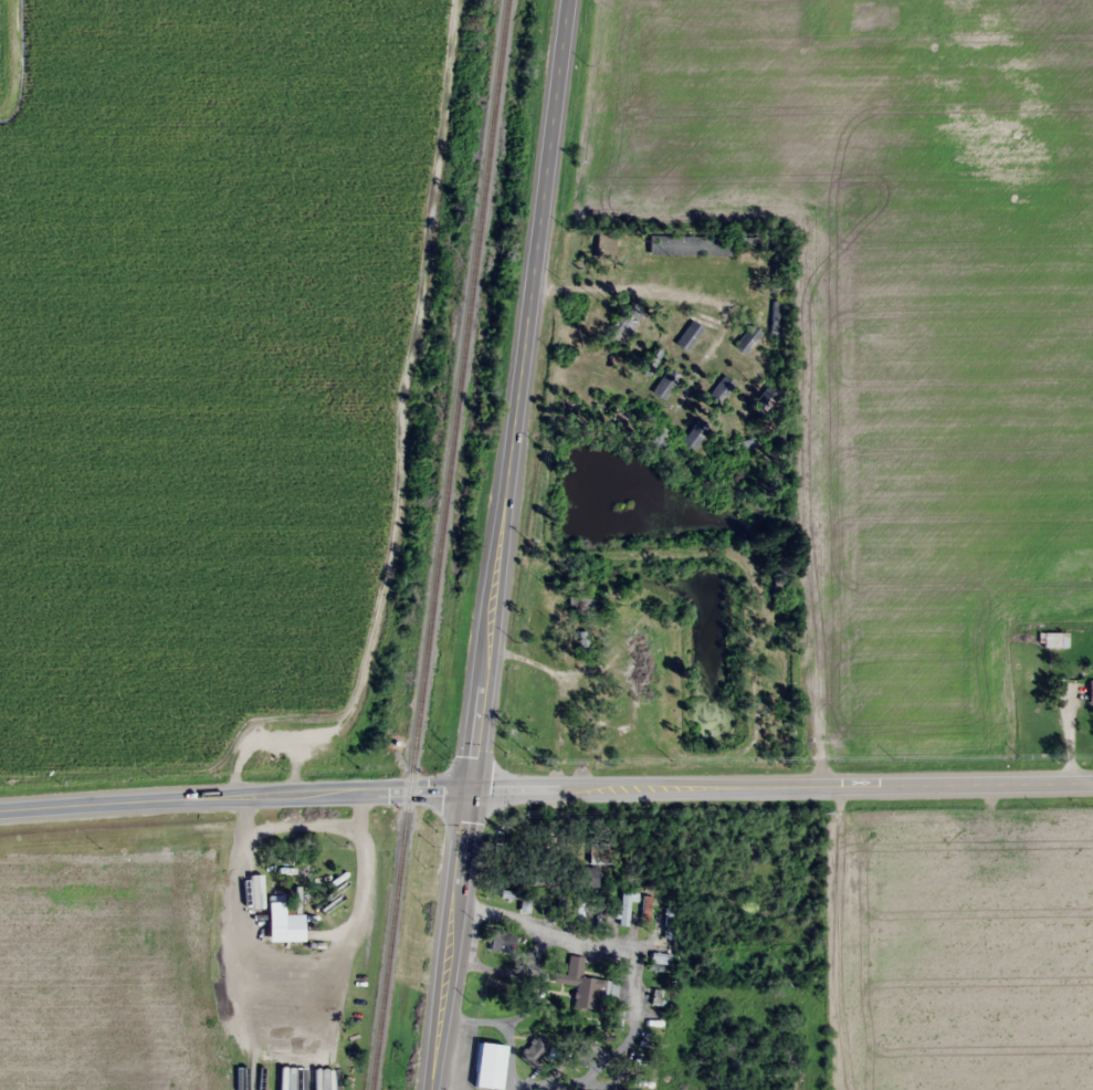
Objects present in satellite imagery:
building: (875, 15)
building: (603, 244)
building: (695, 244)
road: (638, 289)
building: (627, 317)
building: (687, 335)
building: (747, 337)
building: (664, 382)
building: (721, 389)
building: (766, 399)
building: (693, 433)
building: (656, 437)
building: (737, 444)
railway: (439, 544)
road: (498, 544)
building: (1052, 639)
building: (777, 667)
building: (805, 679)
building: (1090, 690)
road: (546, 786)
traffic signals: (464, 787)
building: (534, 873)
building: (590, 876)
building: (517, 898)
building: (579, 905)
building: (626, 906)
building: (647, 910)
building: (275, 912)
building: (218, 924)
building: (501, 940)
building: (579, 985)
building: (535, 1049)
building: (487, 1066)

